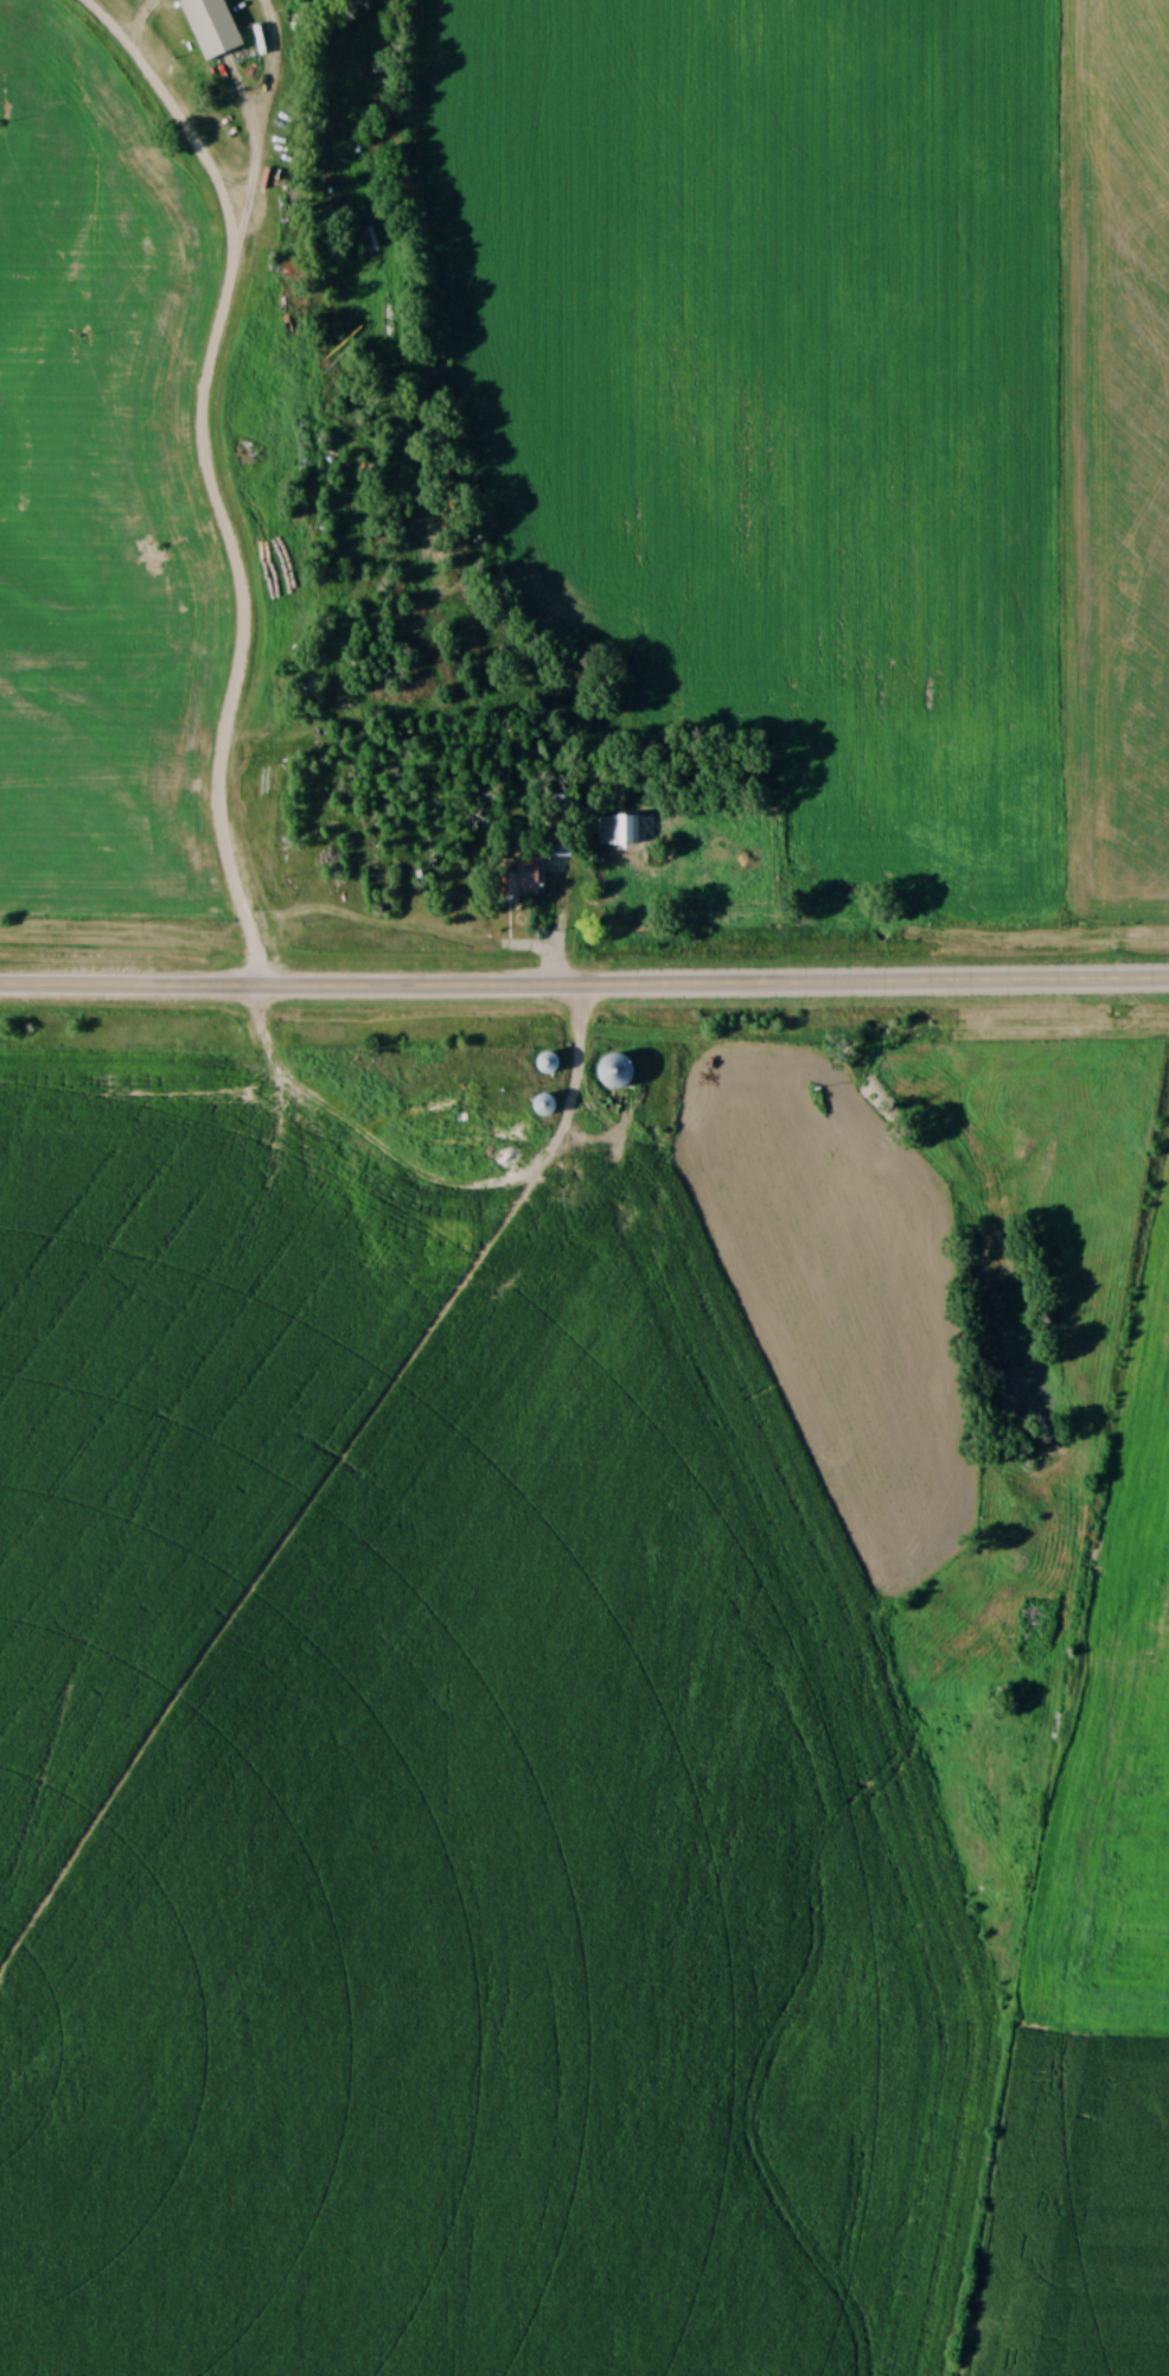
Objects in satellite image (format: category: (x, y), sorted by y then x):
building: (210, 27)
road: (207, 471)
building: (622, 832)
building: (524, 879)
road: (584, 982)
building: (549, 1063)
building: (617, 1072)
building: (543, 1106)
building: (513, 1134)
road: (443, 1184)

